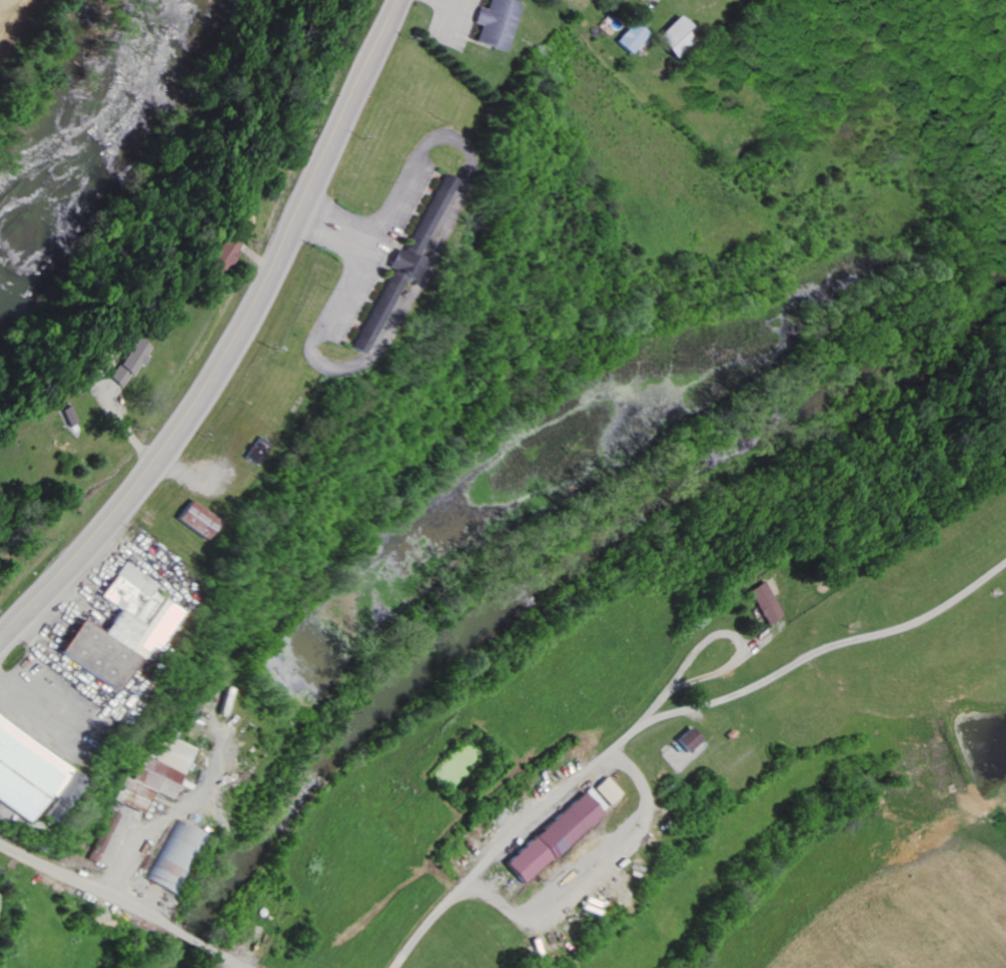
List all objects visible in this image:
building: (492, 23)
building: (628, 37)
building: (671, 37)
river: (86, 152)
building: (211, 252)
road: (234, 343)
building: (114, 360)
road: (122, 425)
building: (190, 517)
building: (763, 601)
building: (116, 627)
road: (659, 698)
building: (684, 739)
building: (22, 771)
building: (154, 773)
building: (606, 789)
building: (549, 837)
building: (166, 855)
road: (597, 879)
road: (86, 886)
road: (189, 939)
road: (226, 958)

